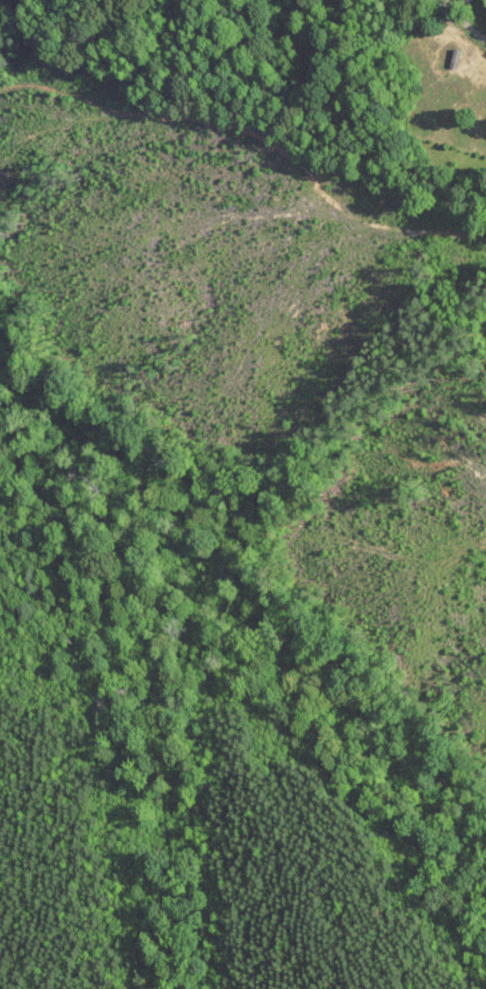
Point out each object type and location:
road: (466, 22)

